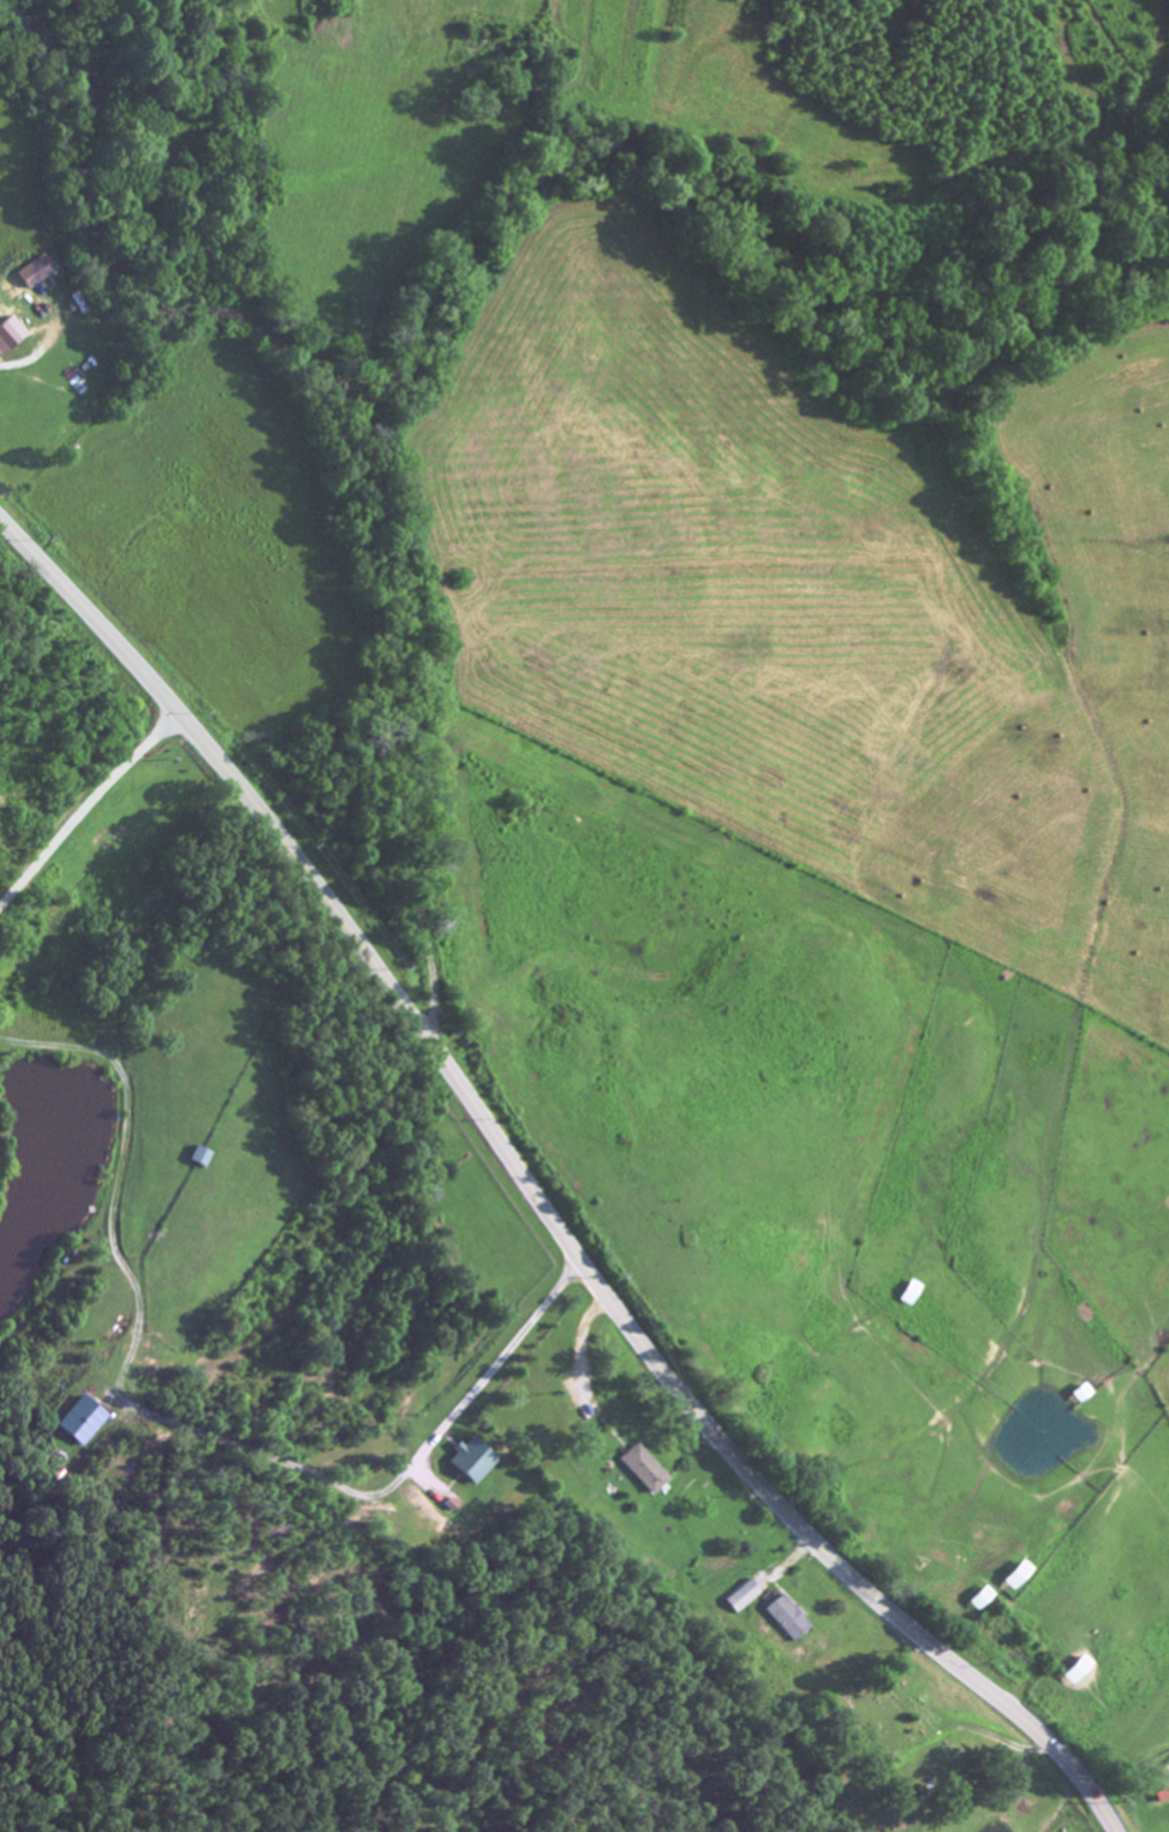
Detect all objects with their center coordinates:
building: (37, 273)
building: (203, 1159)
road: (533, 1197)
building: (85, 1422)
building: (476, 1462)
building: (645, 1471)
building: (1020, 1578)
building: (742, 1598)
building: (984, 1601)
building: (791, 1620)

